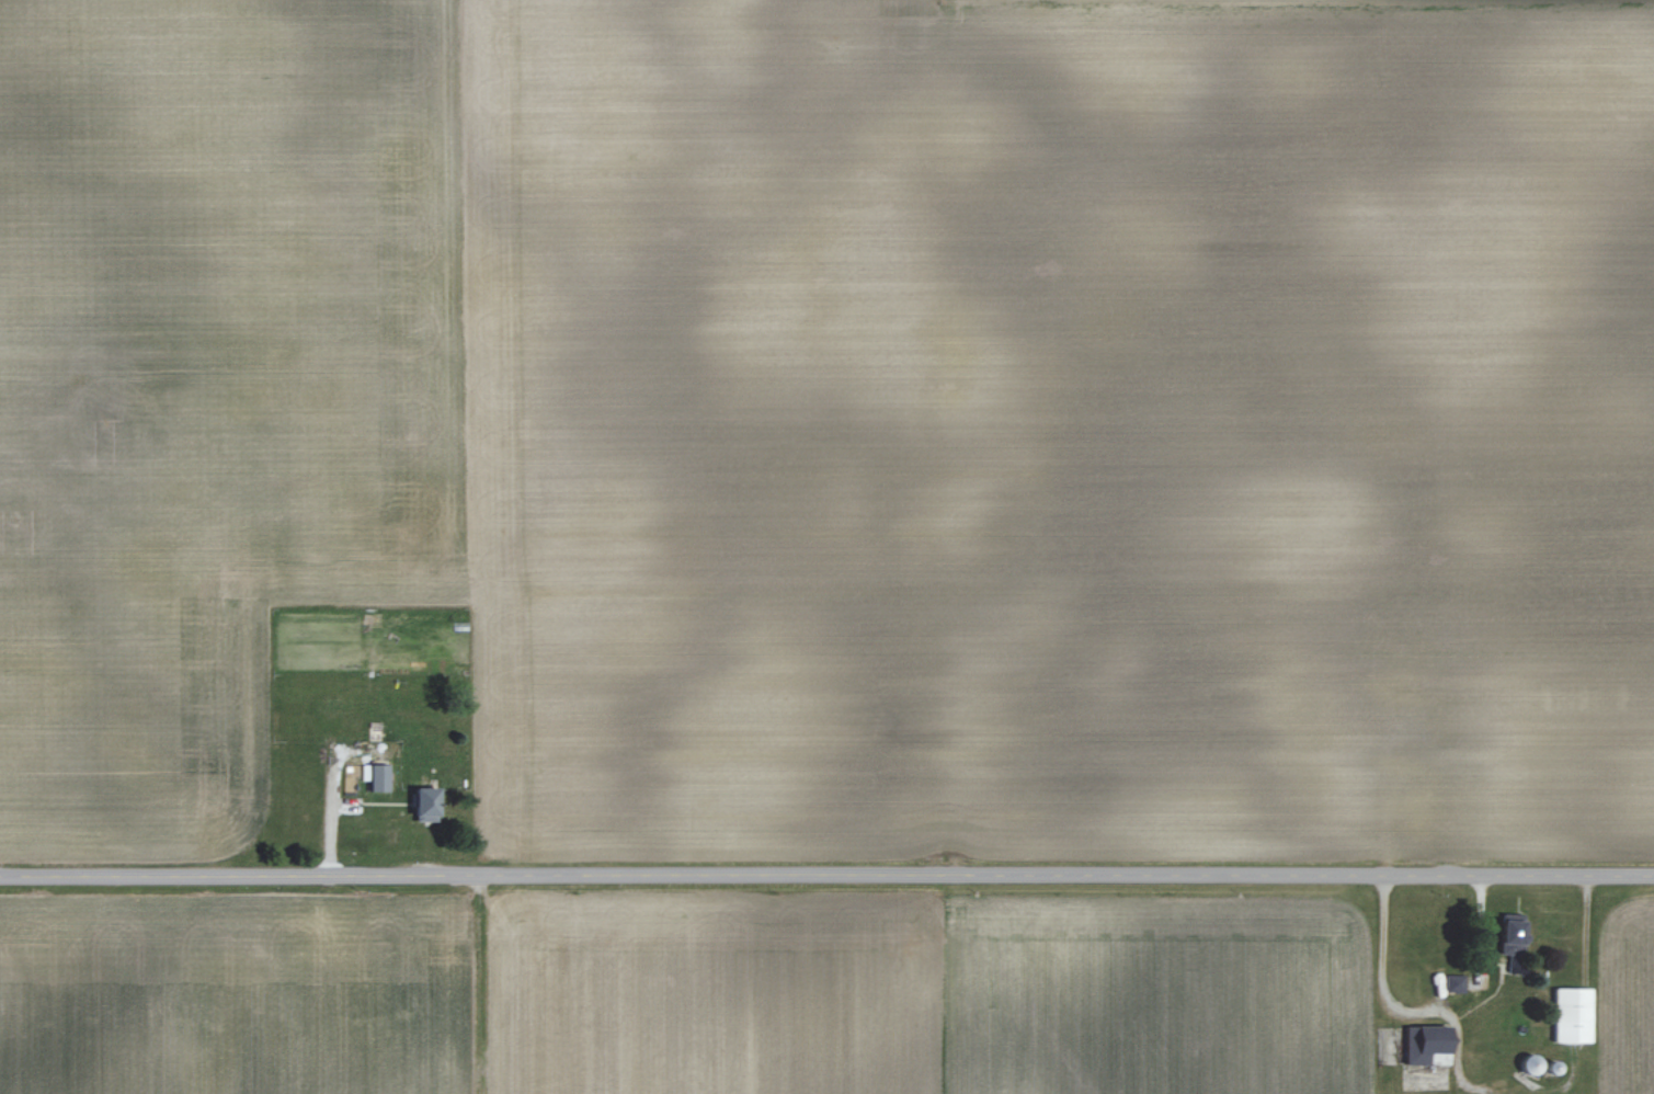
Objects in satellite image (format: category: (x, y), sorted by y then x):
road: (826, 871)
building: (1514, 928)
road: (1381, 977)
building: (1573, 1016)
building: (1434, 1042)

